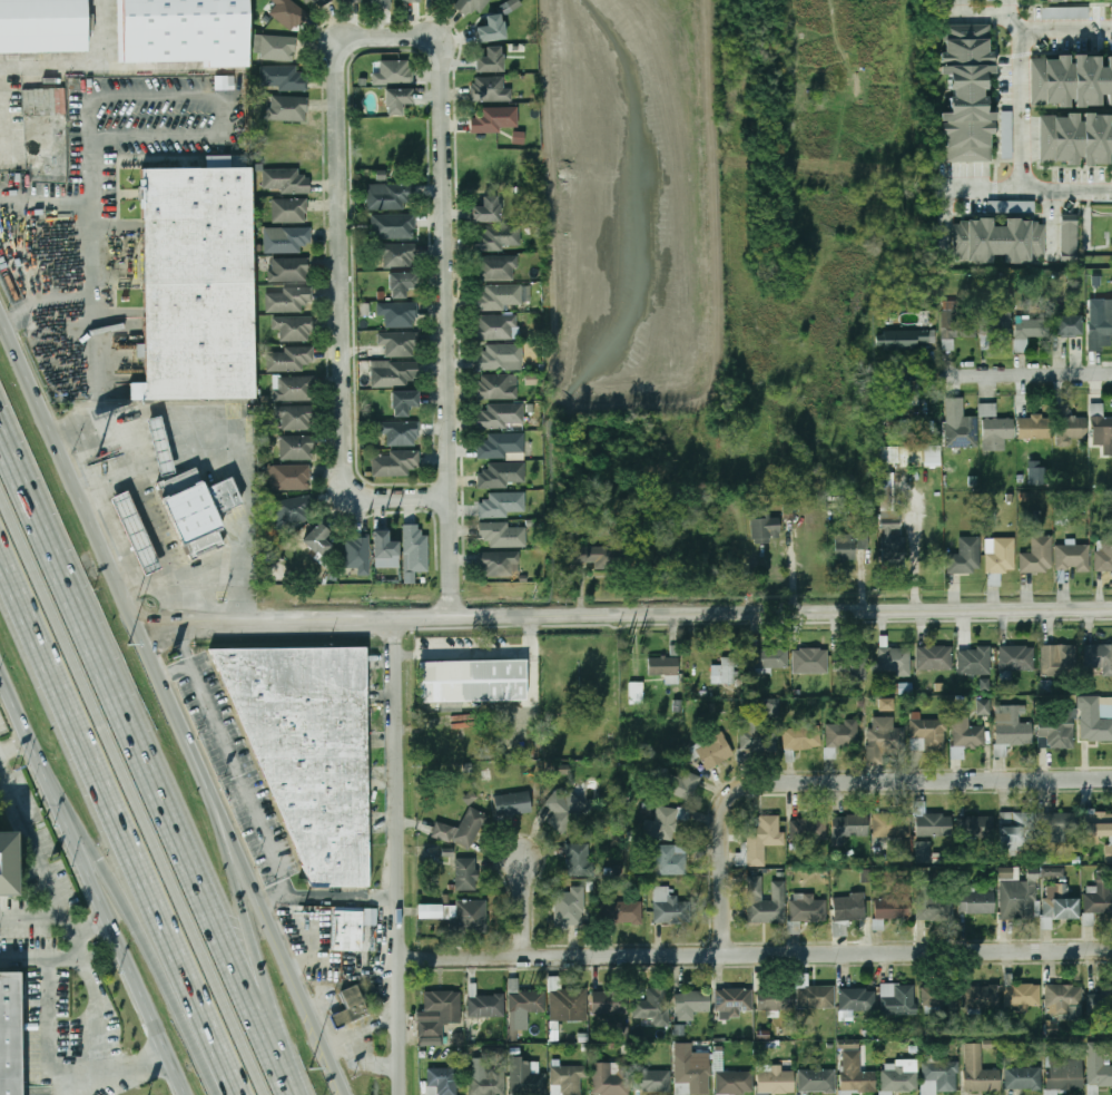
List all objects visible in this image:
building: (411, 0)
building: (447, 0)
building: (350, 1)
building: (946, 1)
building: (1053, 1)
building: (378, 2)
road: (1064, 2)
building: (317, 3)
building: (471, 6)
building: (510, 6)
building: (1064, 12)
building: (289, 13)
building: (42, 26)
building: (492, 29)
building: (181, 31)
road: (1099, 32)
building: (1111, 43)
building: (275, 48)
road: (1060, 52)
building: (490, 60)
building: (394, 72)
building: (284, 78)
building: (1070, 80)
building: (224, 82)
building: (491, 90)
building: (966, 92)
building: (397, 100)
road: (998, 107)
building: (287, 108)
road: (1020, 109)
building: (494, 119)
building: (1006, 135)
building: (1074, 139)
road: (90, 145)
building: (285, 179)
building: (391, 196)
building: (1011, 206)
building: (289, 211)
building: (486, 211)
building: (396, 226)
building: (1067, 235)
building: (498, 237)
building: (287, 241)
building: (998, 241)
building: (397, 255)
road: (343, 268)
building: (498, 268)
building: (289, 270)
building: (196, 283)
building: (401, 285)
road: (89, 293)
building: (499, 297)
building: (288, 300)
building: (398, 314)
building: (996, 324)
road: (446, 326)
building: (957, 326)
building: (1069, 326)
building: (293, 327)
building: (495, 327)
building: (1100, 327)
building: (1030, 331)
building: (911, 340)
building: (398, 344)
building: (500, 358)
building: (288, 359)
road: (1033, 373)
road: (96, 374)
building: (394, 374)
building: (498, 387)
building: (293, 389)
building: (403, 402)
building: (987, 410)
building: (501, 415)
building: (295, 419)
building: (961, 426)
building: (1034, 427)
building: (1070, 428)
building: (1101, 430)
building: (400, 433)
building: (997, 433)
road: (225, 443)
building: (159, 446)
gas station: (159, 446)
building: (502, 446)
building: (296, 448)
building: (912, 457)
building: (393, 463)
road: (110, 475)
building: (502, 476)
building: (1036, 476)
building: (289, 478)
building: (887, 503)
building: (503, 505)
building: (197, 507)
building: (293, 510)
road: (152, 521)
building: (765, 528)
building: (135, 534)
gas station: (135, 534)
building: (504, 534)
building: (318, 539)
building: (845, 547)
road: (106, 548)
building: (415, 549)
building: (893, 549)
road: (125, 550)
building: (385, 550)
building: (1108, 550)
building: (358, 554)
building: (589, 555)
building: (1001, 555)
building: (965, 556)
building: (1037, 556)
building: (1073, 557)
building: (499, 564)
road: (210, 579)
road: (132, 587)
road: (624, 613)
road: (480, 648)
building: (1099, 657)
building: (770, 658)
building: (935, 658)
building: (1017, 658)
building: (810, 661)
building: (975, 661)
building: (1059, 661)
building: (896, 662)
building: (854, 663)
road: (175, 668)
building: (665, 668)
building: (725, 671)
building: (473, 681)
building: (984, 684)
building: (636, 693)
building: (983, 706)
building: (771, 708)
building: (1096, 718)
building: (1011, 730)
building: (1056, 731)
building: (843, 734)
building: (927, 734)
building: (967, 734)
building: (886, 736)
building: (757, 737)
building: (803, 737)
road: (16, 740)
road: (142, 744)
building: (710, 750)
building: (309, 751)
road: (1, 760)
road: (237, 770)
road: (839, 781)
building: (681, 784)
road: (134, 789)
building: (512, 804)
building: (564, 806)
building: (662, 823)
building: (1059, 823)
road: (119, 824)
building: (933, 824)
building: (1098, 824)
building: (892, 825)
building: (848, 827)
building: (470, 828)
building: (975, 828)
building: (809, 830)
road: (32, 831)
building: (1017, 831)
building: (760, 839)
building: (432, 851)
building: (923, 851)
building: (1109, 853)
road: (400, 856)
building: (579, 859)
building: (671, 860)
building: (4, 863)
building: (617, 870)
building: (1052, 872)
building: (466, 873)
road: (96, 879)
road: (344, 894)
building: (1100, 897)
building: (1018, 900)
building: (766, 901)
building: (932, 902)
building: (976, 902)
building: (1059, 905)
road: (521, 907)
building: (670, 907)
building: (849, 907)
building: (808, 908)
building: (570, 909)
building: (893, 909)
road: (45, 911)
building: (621, 912)
building: (457, 918)
road: (247, 923)
building: (793, 927)
road: (144, 929)
building: (350, 932)
road: (281, 939)
road: (756, 954)
road: (24, 959)
road: (48, 984)
building: (941, 995)
building: (1023, 996)
building: (775, 997)
building: (816, 997)
building: (981, 997)
building: (1063, 997)
building: (898, 999)
building: (857, 1000)
building: (1101, 1000)
building: (528, 1001)
building: (567, 1001)
building: (611, 1003)
building: (656, 1003)
building: (732, 1003)
building: (691, 1005)
building: (486, 1006)
building: (351, 1007)
building: (439, 1013)
road: (98, 1020)
building: (10, 1033)
building: (718, 1058)
building: (1098, 1067)
building: (980, 1072)
road: (130, 1074)
building: (692, 1074)
building: (855, 1074)
building: (1064, 1075)
building: (899, 1077)
building: (1023, 1077)
road: (295, 1078)
building: (527, 1078)
building: (610, 1078)
building: (939, 1078)
building: (775, 1079)
building: (488, 1081)
building: (568, 1081)
building: (816, 1081)
building: (443, 1082)
building: (651, 1082)
building: (734, 1083)

